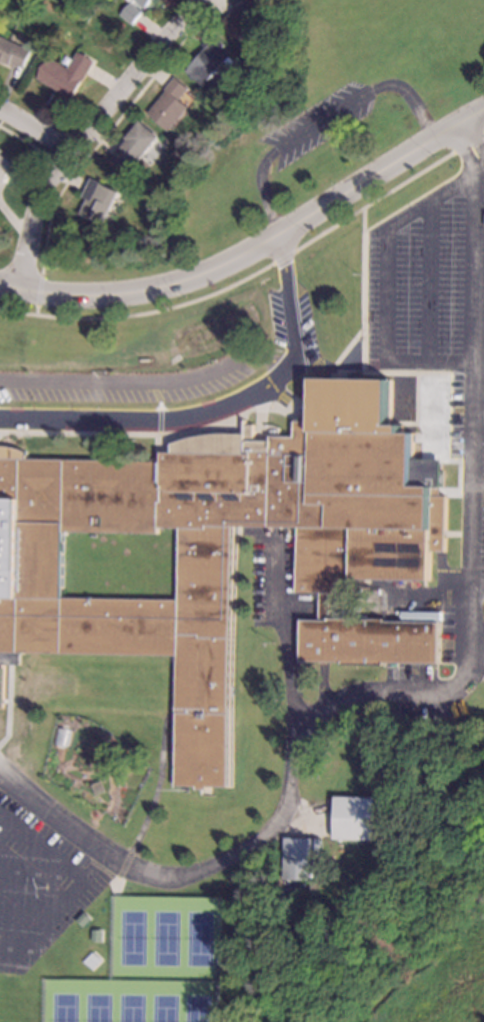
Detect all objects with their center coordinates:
building: (143, 2)
building: (130, 13)
building: (248, 15)
building: (13, 52)
building: (210, 60)
building: (65, 74)
building: (172, 104)
park: (328, 114)
road: (319, 120)
parking lot: (318, 121)
road: (36, 133)
road: (87, 135)
road: (478, 144)
building: (136, 146)
road: (465, 151)
building: (5, 167)
building: (99, 201)
road: (254, 247)
road: (385, 286)
parking lot: (438, 320)
parking lot: (294, 325)
road: (214, 409)
road: (476, 521)
building: (227, 549)
parking lot: (269, 578)
building: (429, 617)
parking lot: (457, 634)
parking lot: (414, 675)
building: (1, 686)
parking lot: (0, 720)
road: (162, 758)
building: (353, 818)
road: (245, 845)
building: (295, 858)
parking lot: (39, 885)
park: (146, 966)
park: (429, 974)

